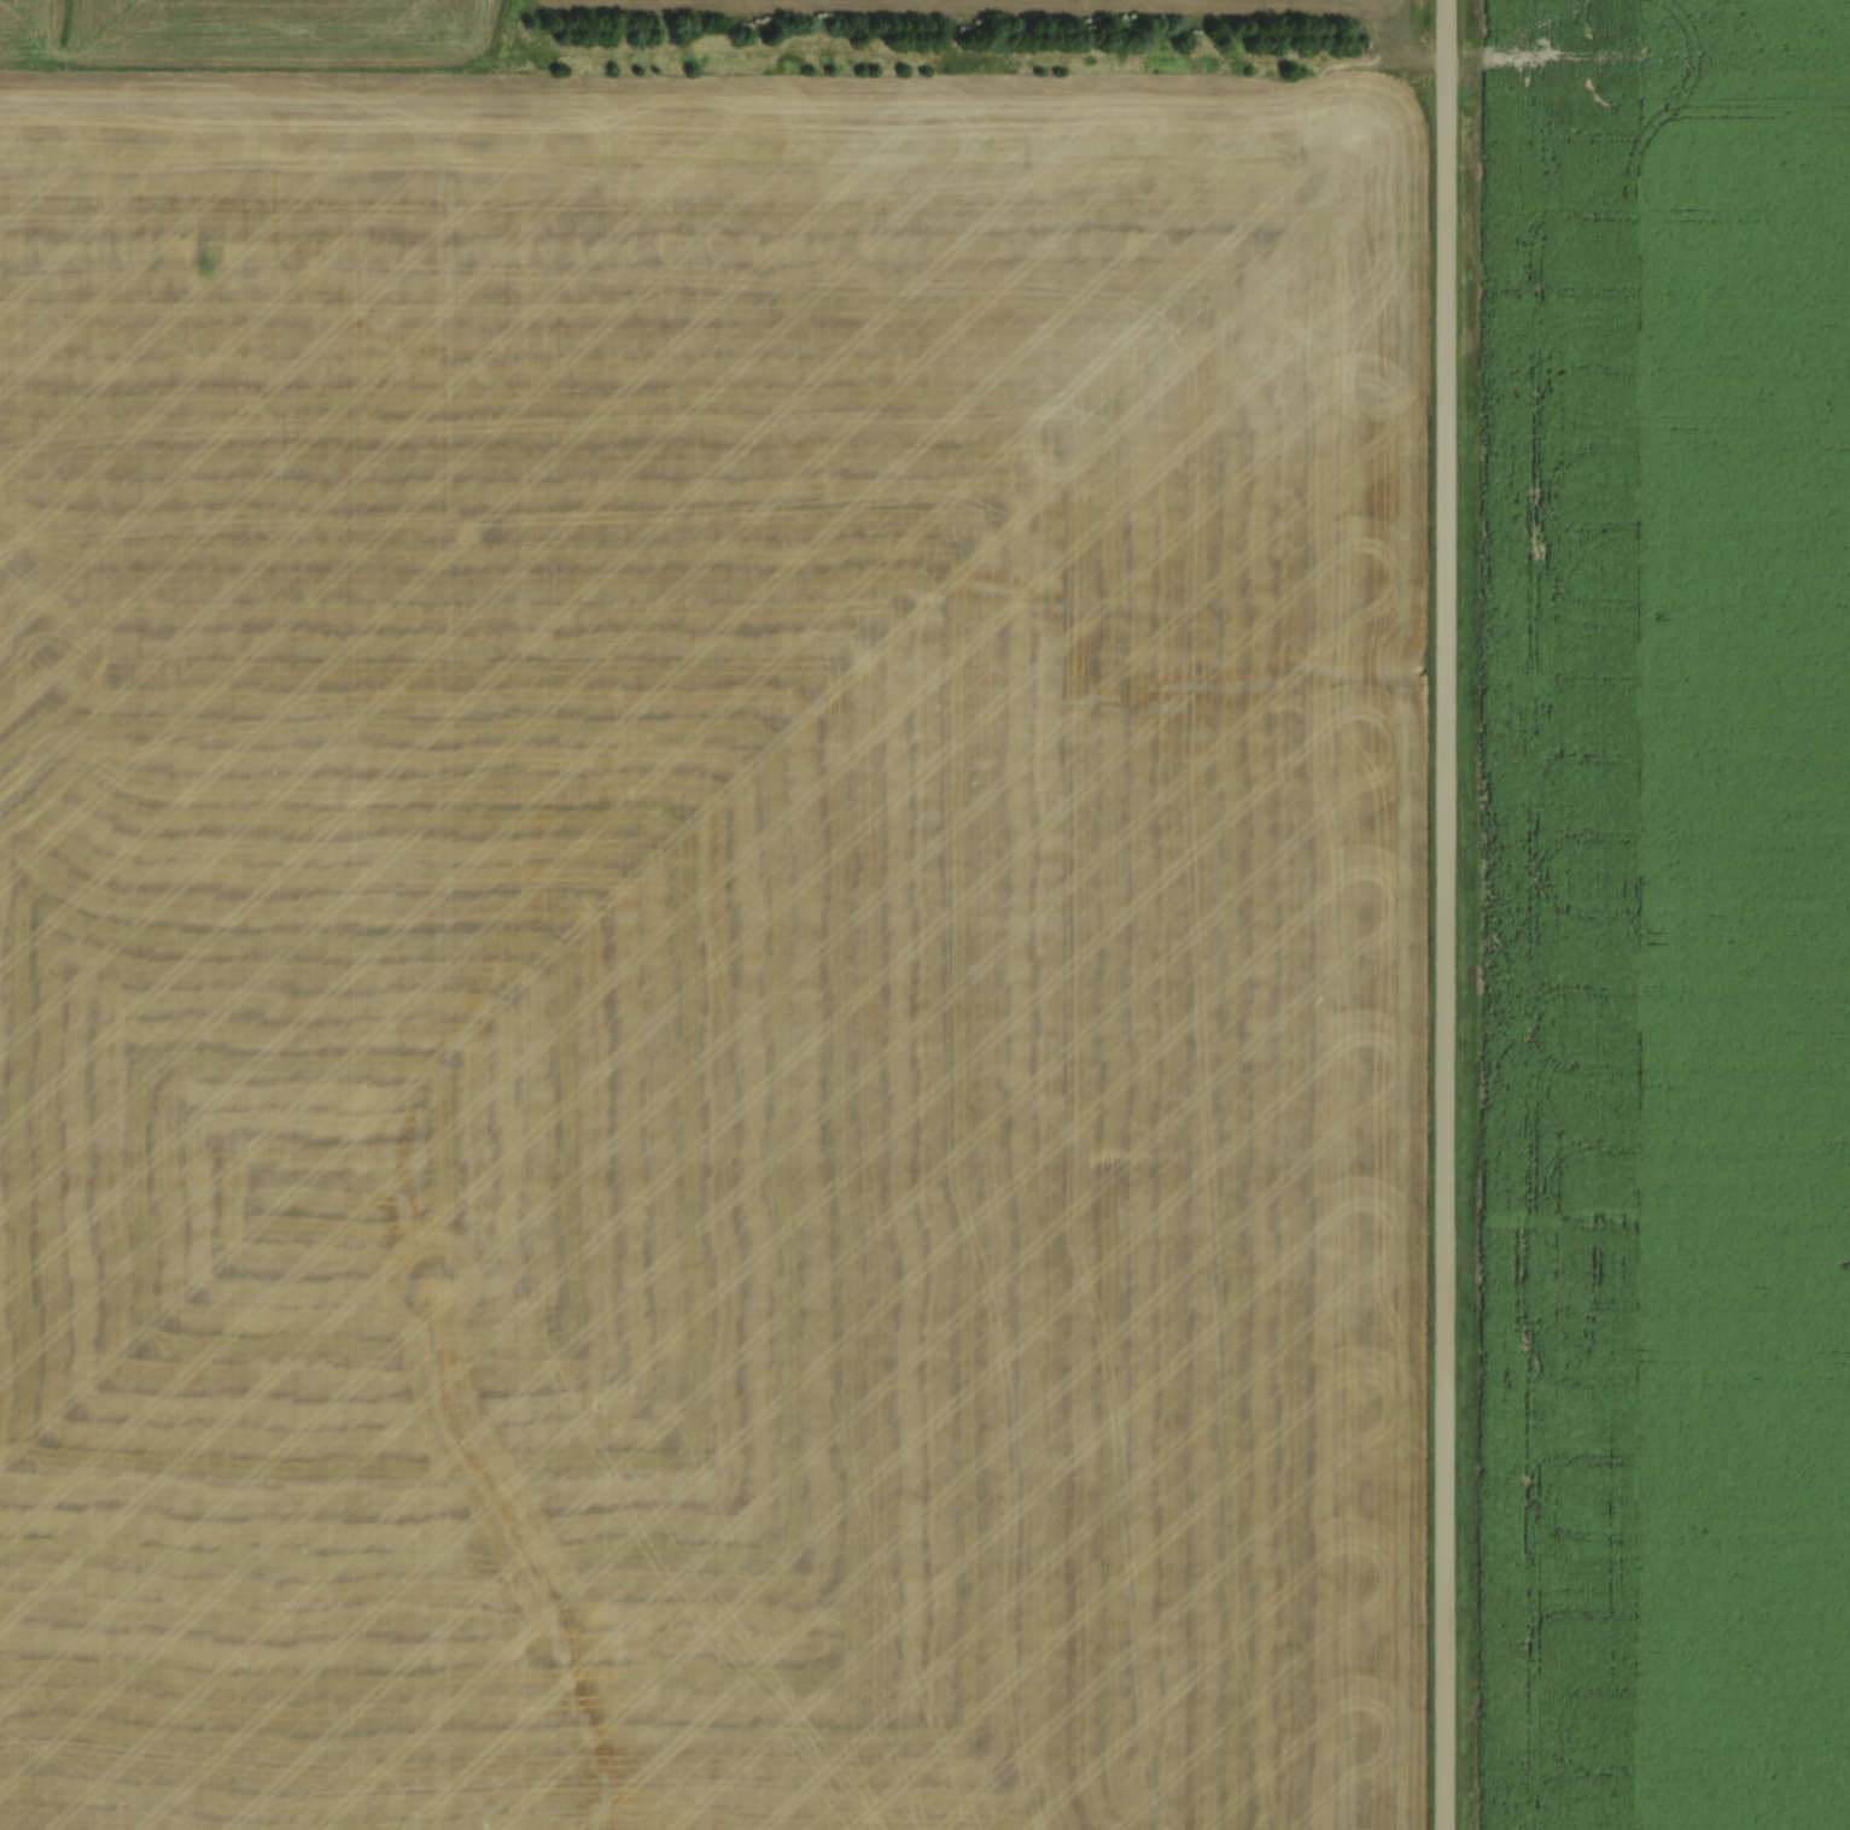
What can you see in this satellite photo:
road: (1443, 914)

